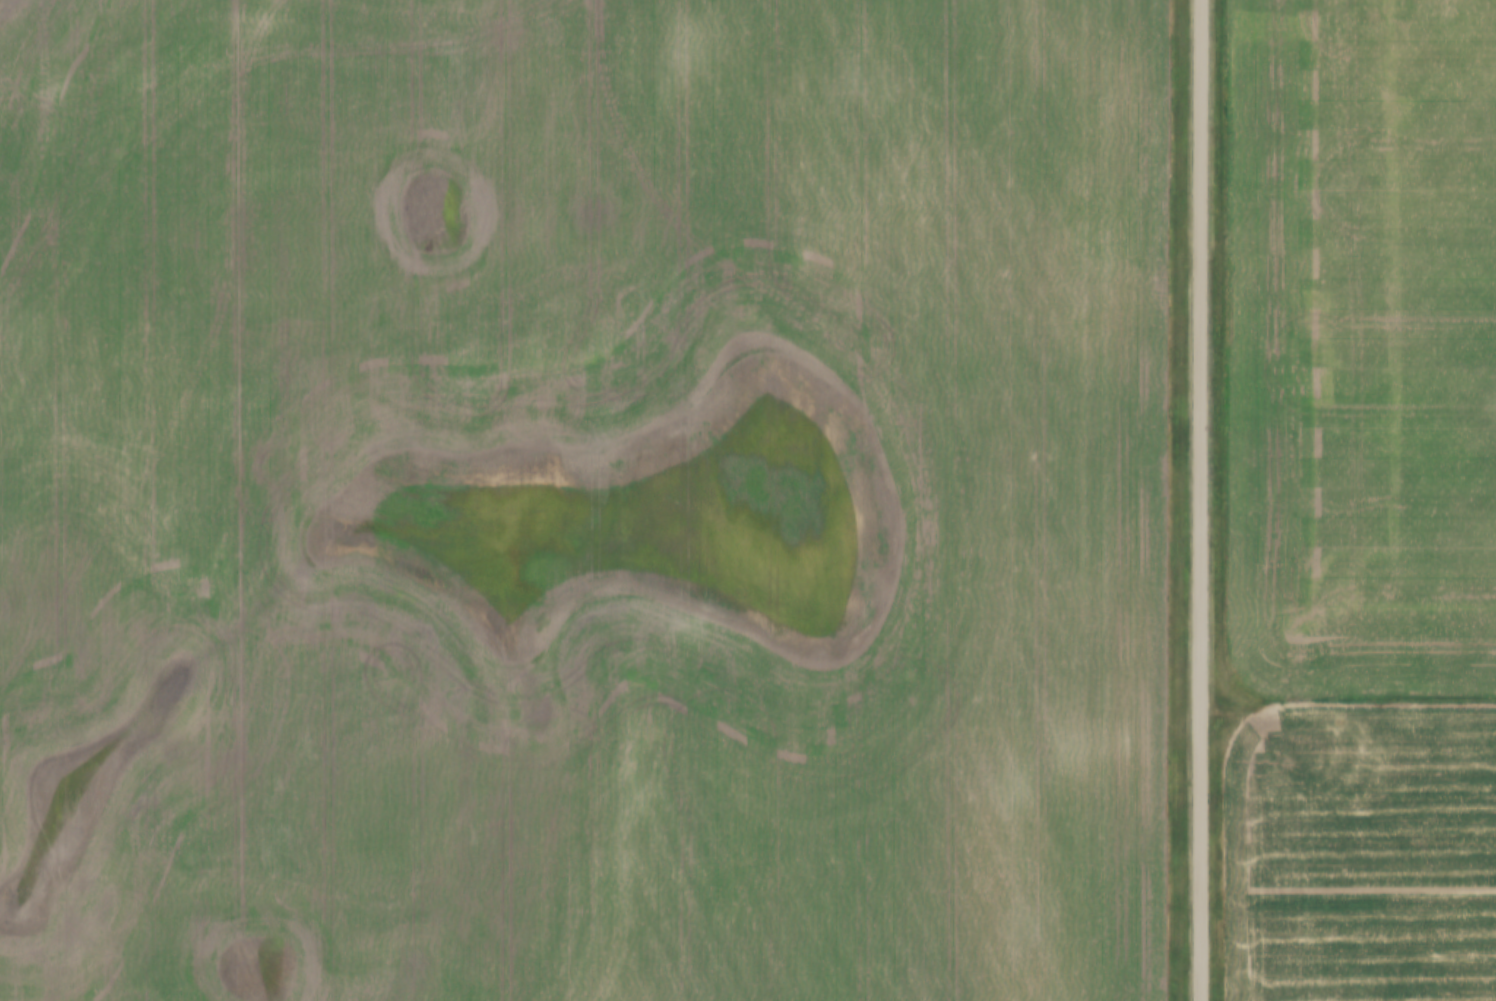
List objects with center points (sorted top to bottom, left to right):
road: (1202, 500)

